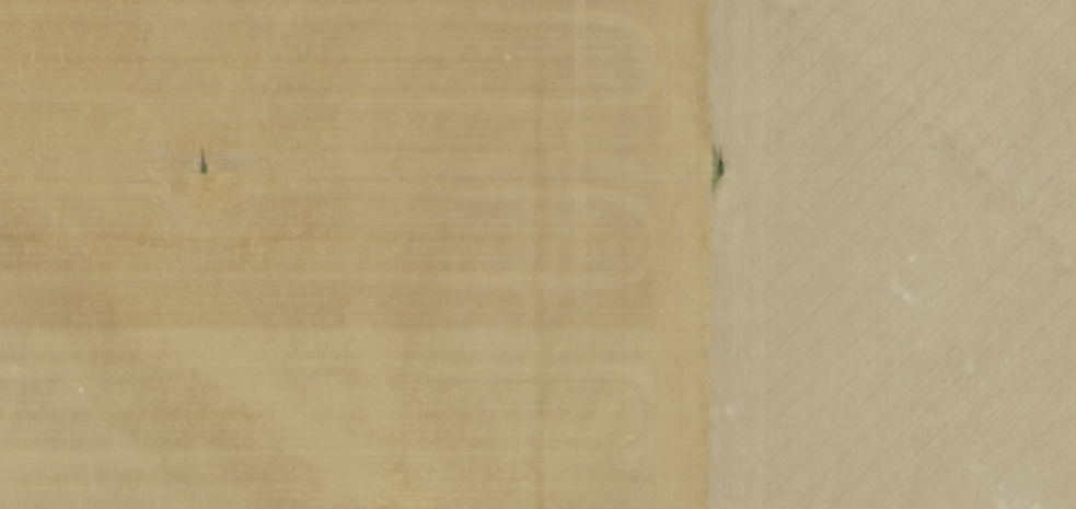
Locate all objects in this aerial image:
power tower: (199, 166)
power tower: (717, 170)
crop: (537, 254)

